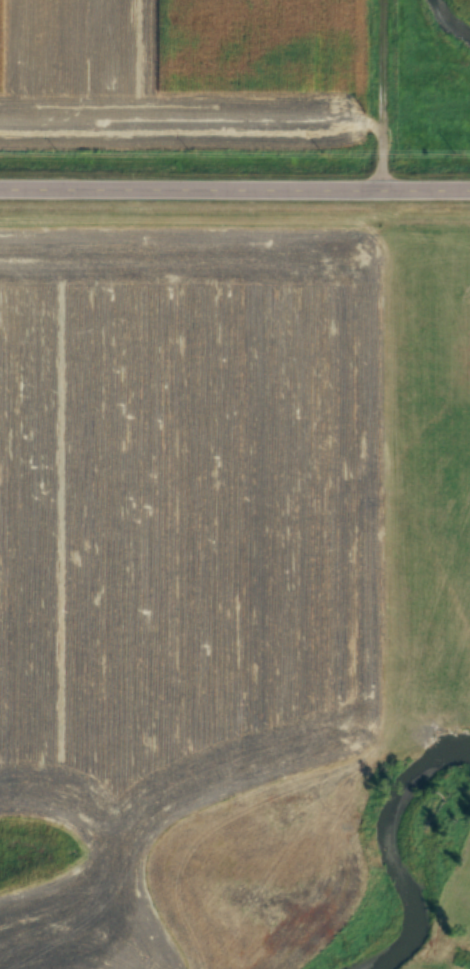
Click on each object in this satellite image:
river: (452, 16)
road: (235, 184)
river: (397, 847)

